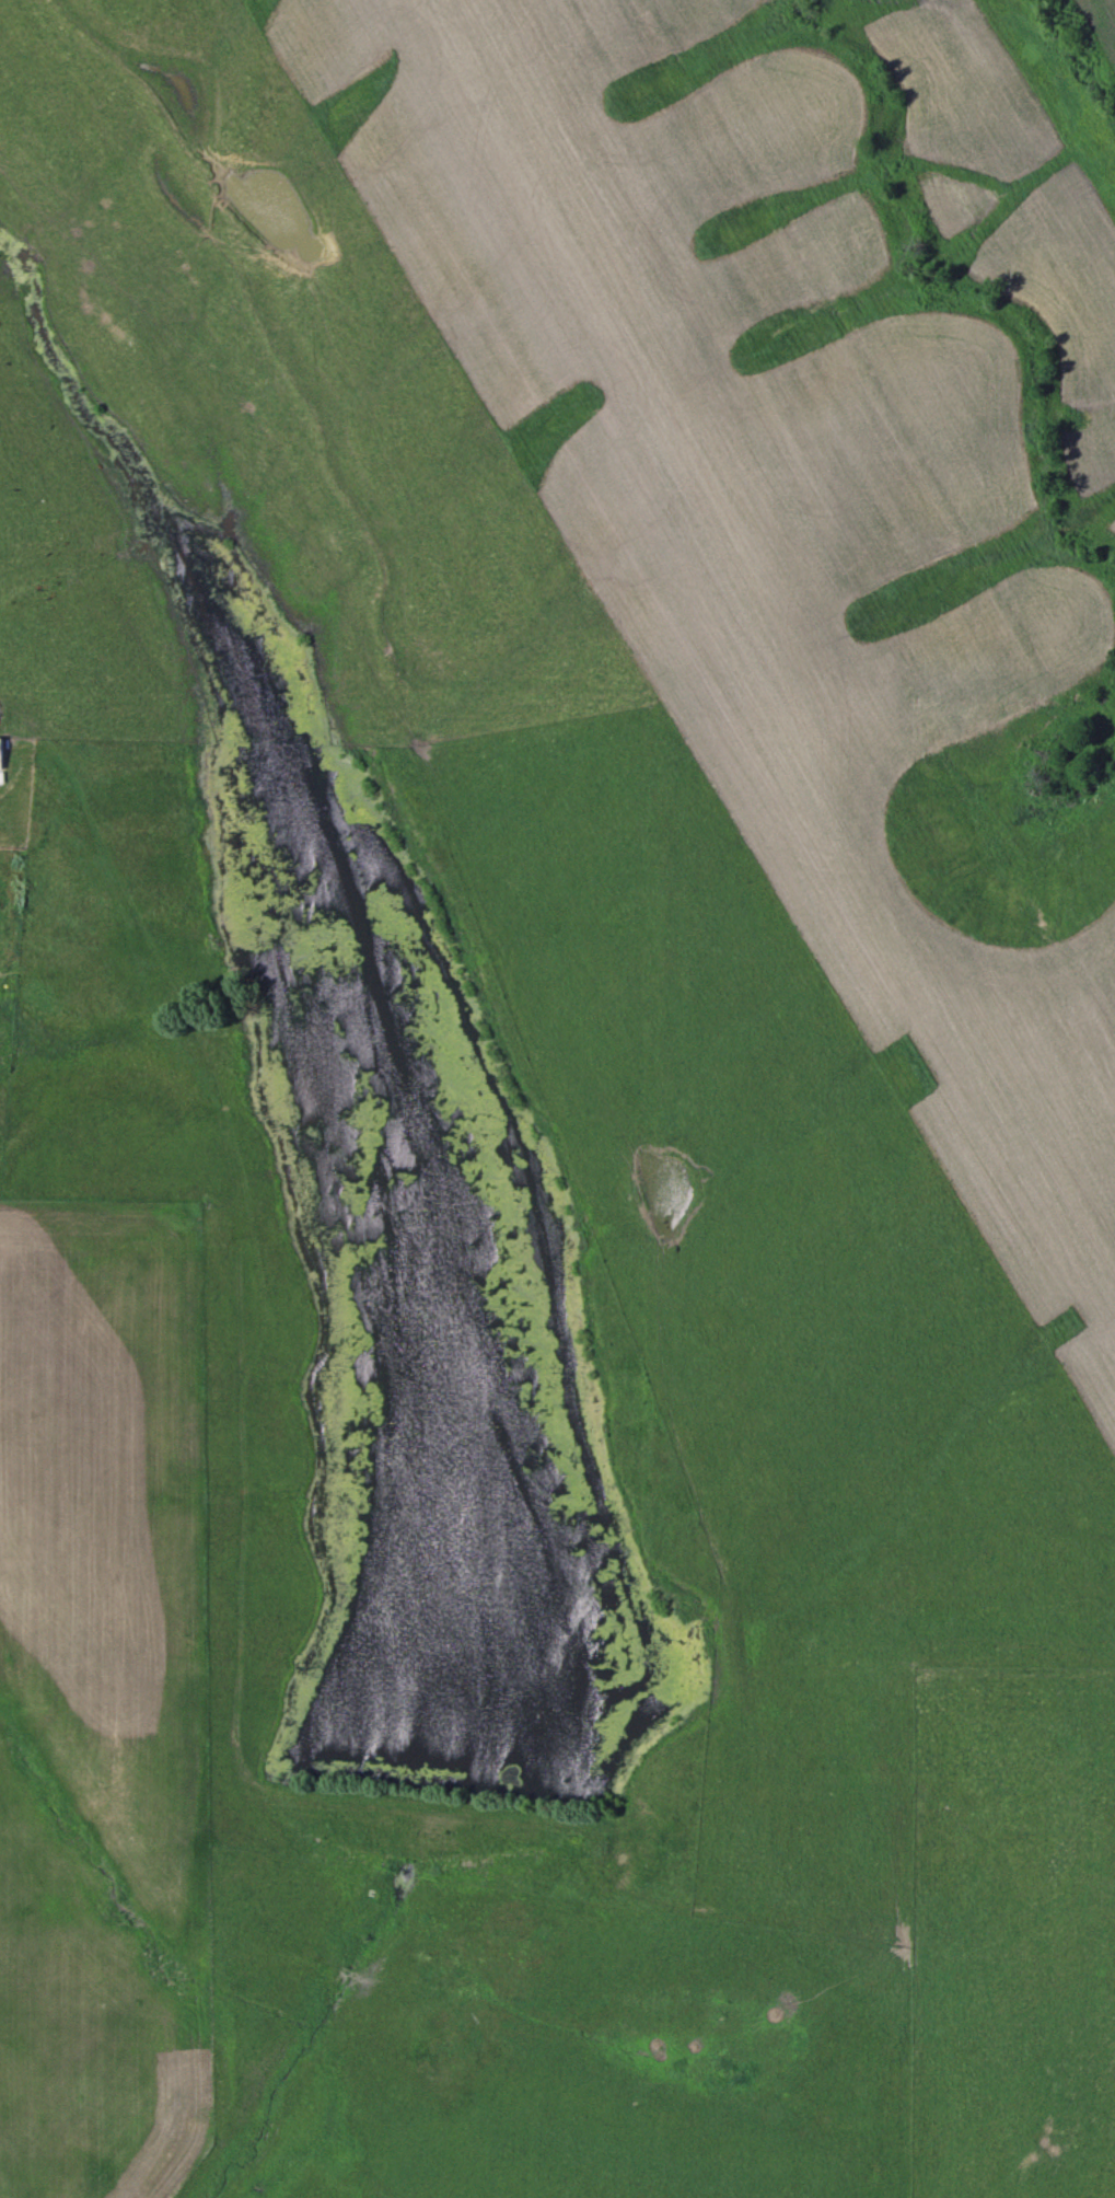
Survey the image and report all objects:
building: (0, 740)

